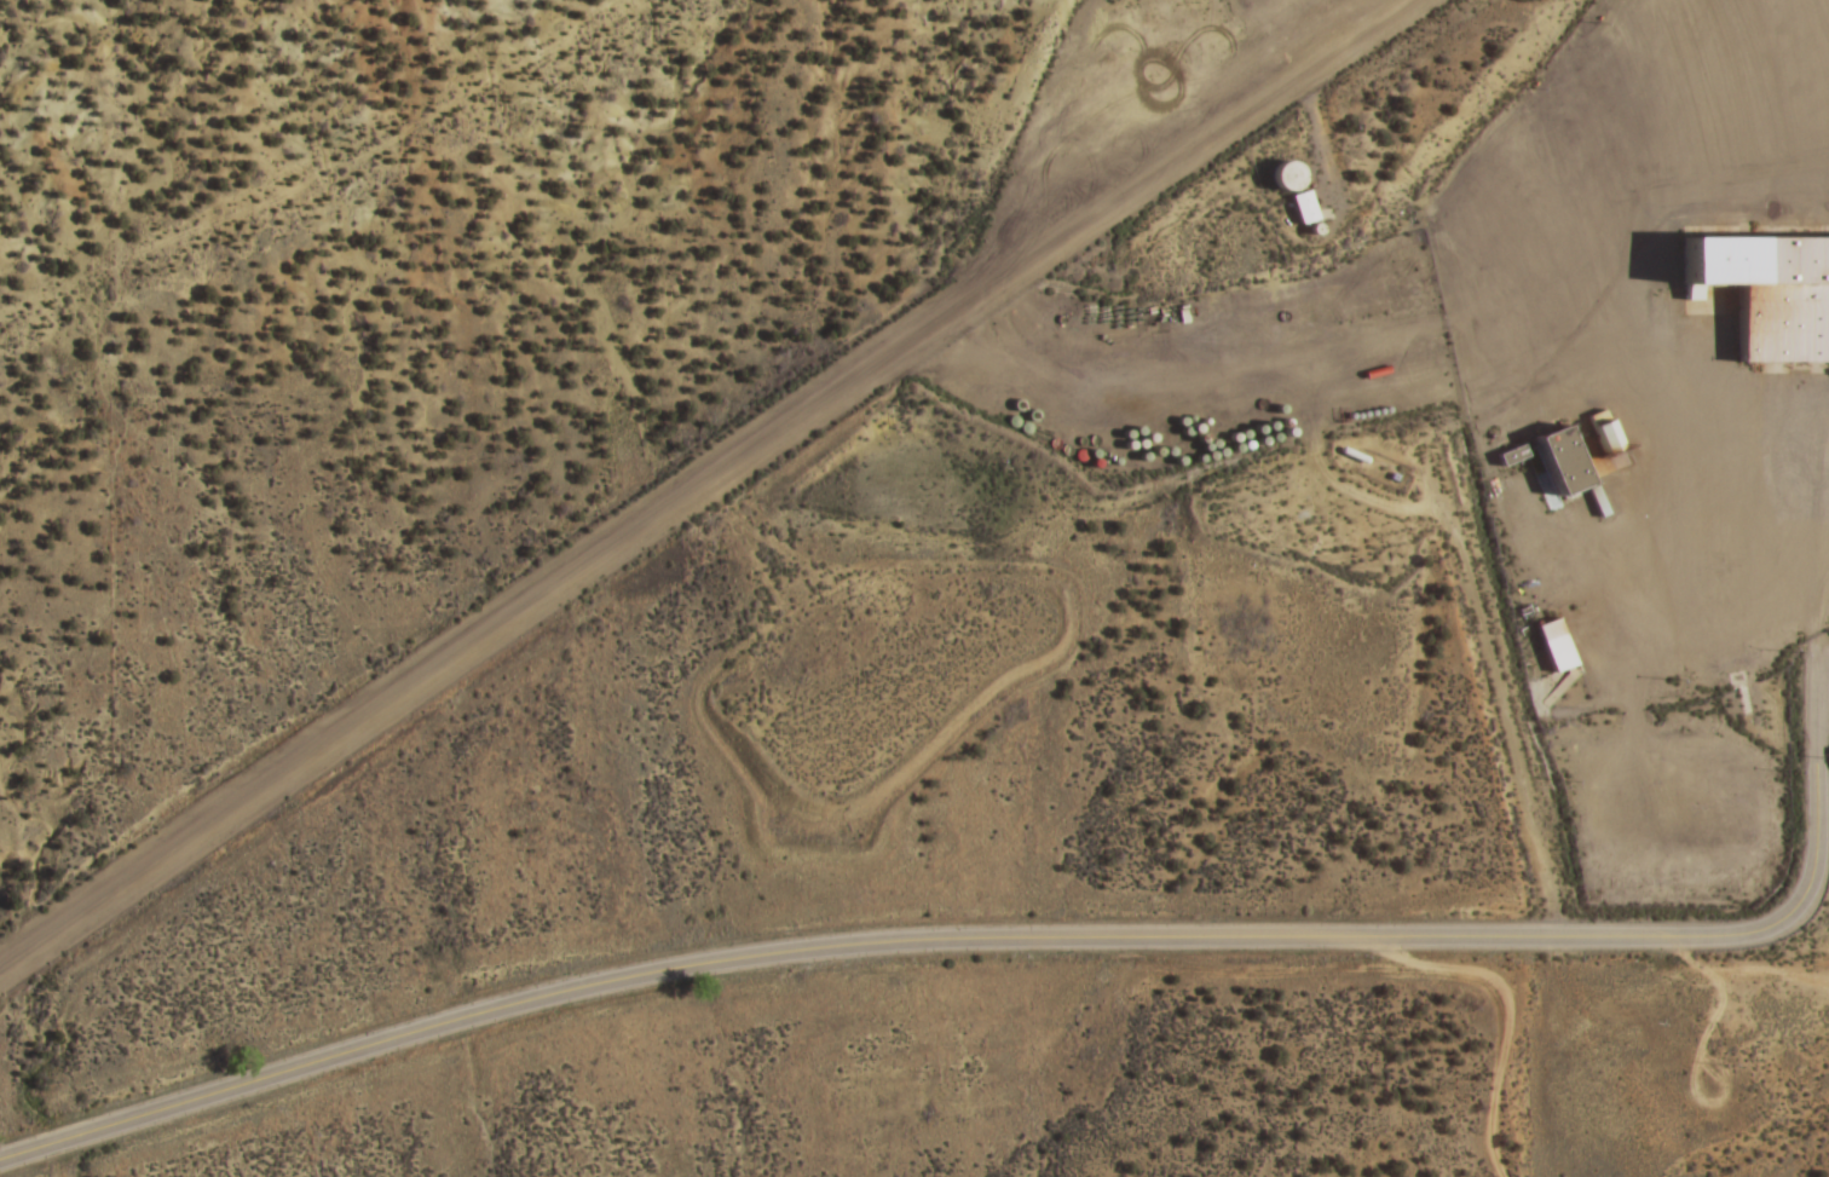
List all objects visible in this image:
building: (1280, 175)
building: (1299, 206)
building: (1758, 293)
building: (1508, 455)
building: (1551, 461)
road: (706, 481)
building: (1553, 645)
road: (931, 939)
road: (1499, 1037)

